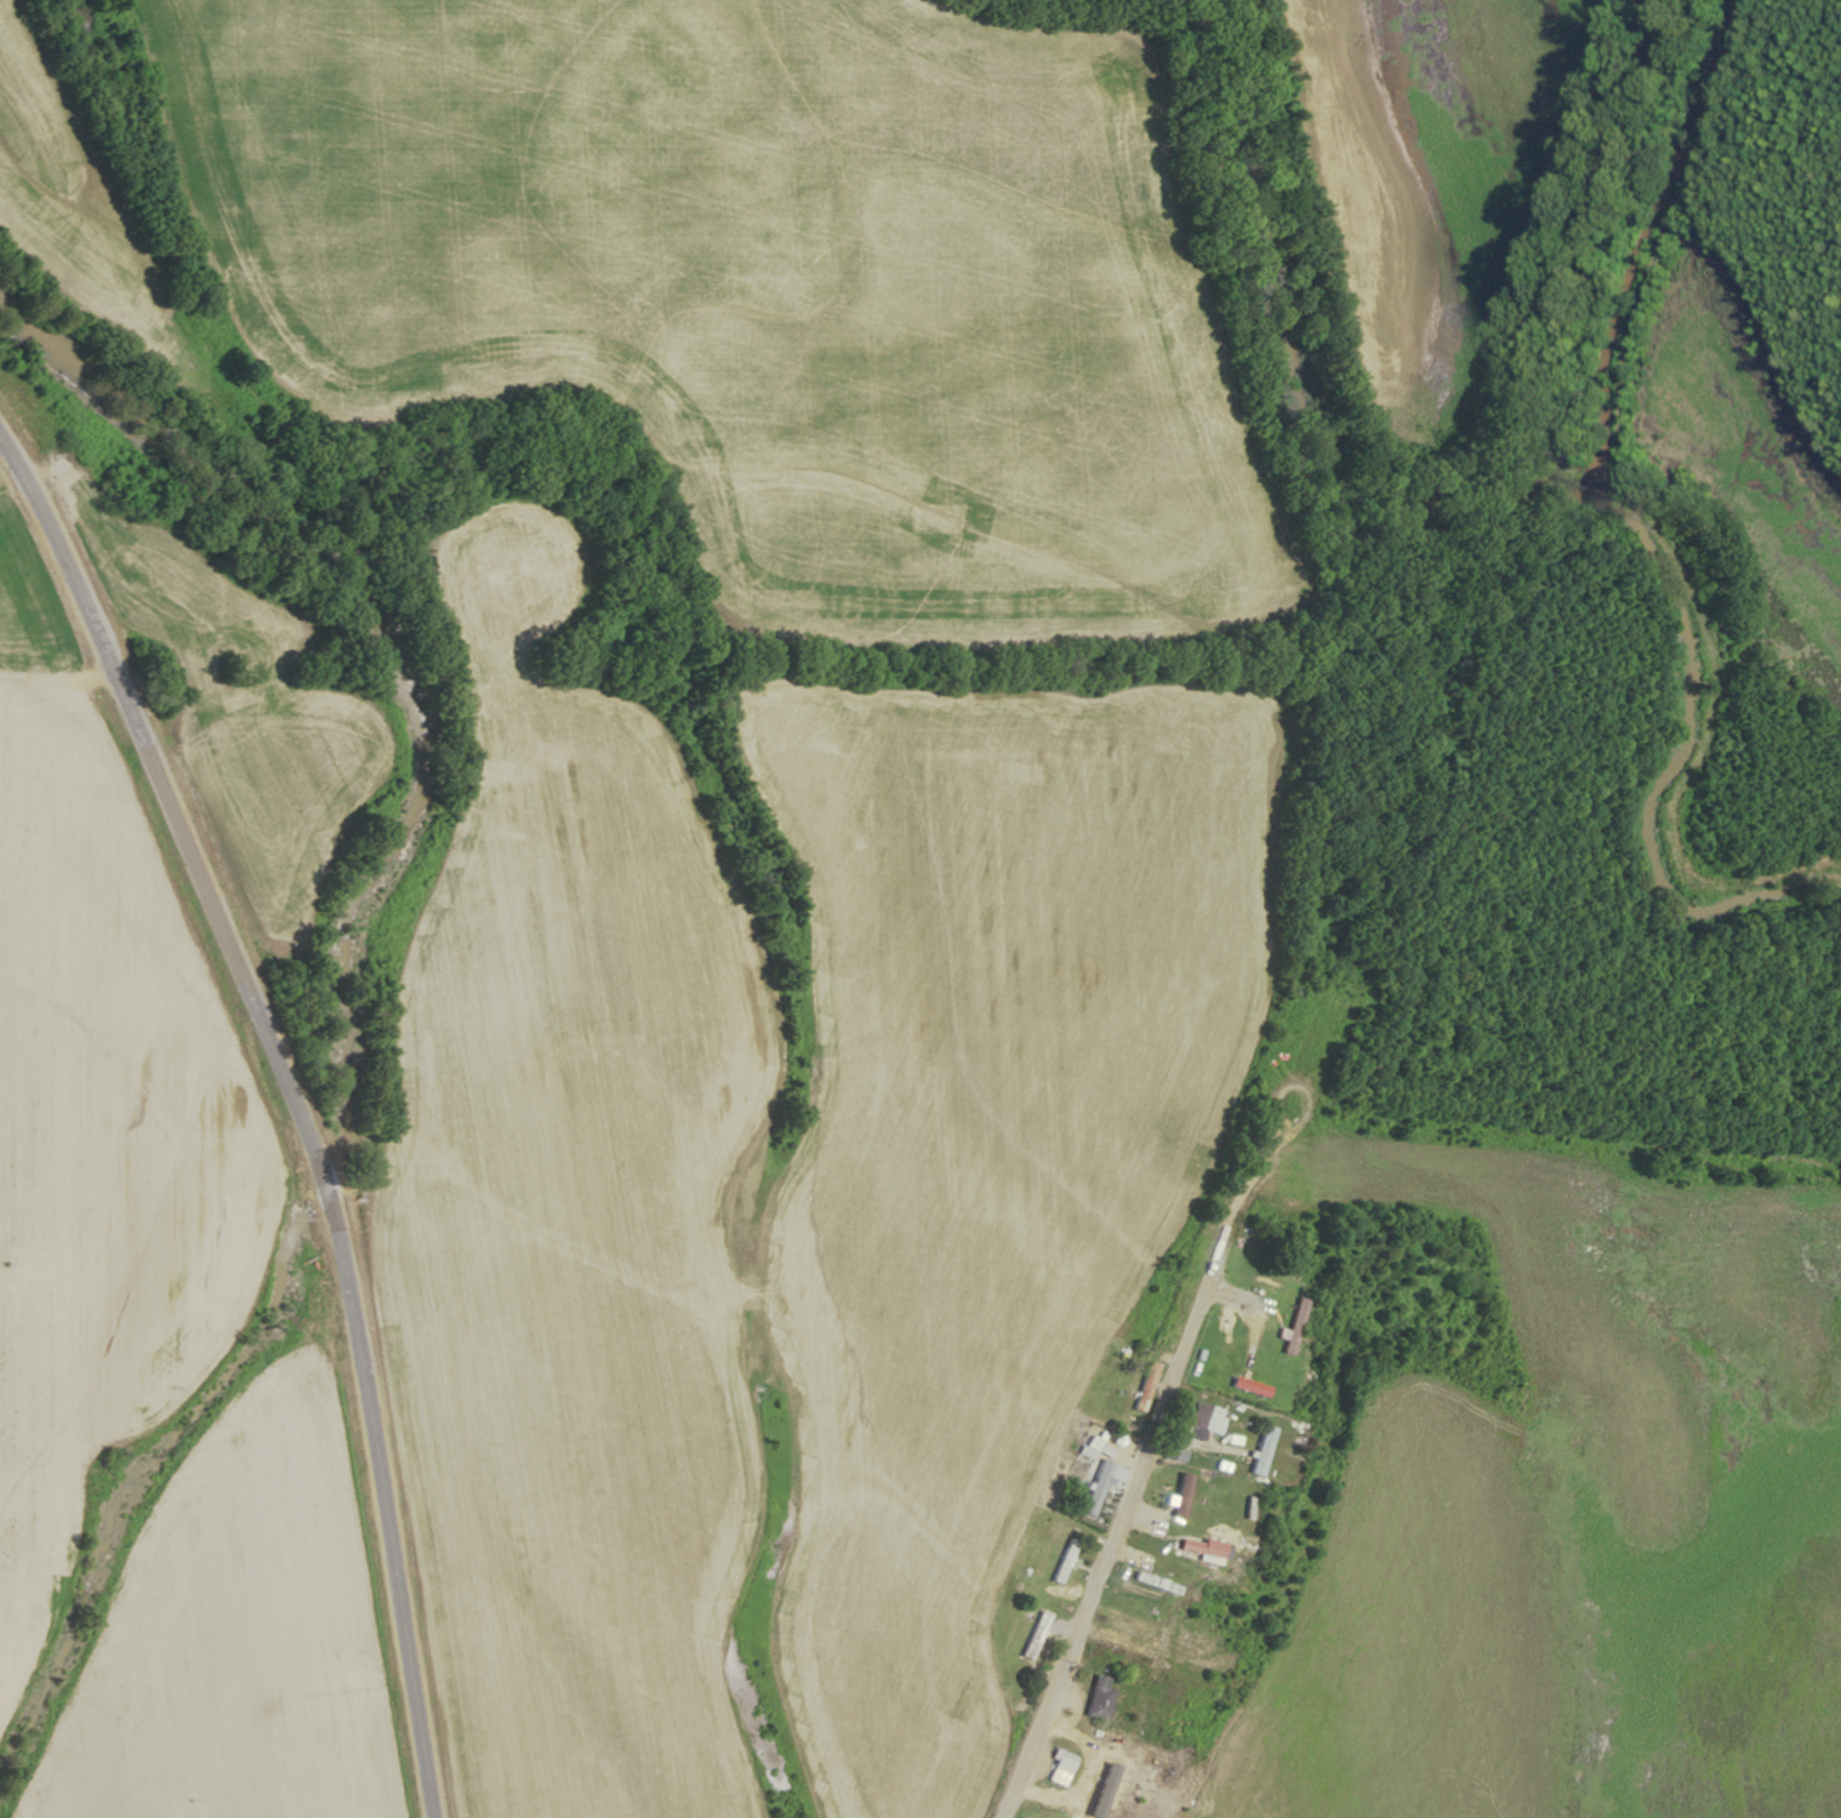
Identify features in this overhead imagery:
road: (52, 574)
road: (58, 686)
road: (1529, 690)
road: (1543, 1134)
road: (426, 1191)
building: (1146, 1386)
building: (1206, 1421)
building: (1264, 1451)
building: (1098, 1488)
building: (1182, 1495)
road: (1132, 1497)
road: (1313, 1508)
building: (1203, 1548)
building: (1064, 1561)
building: (1036, 1636)
building: (1099, 1697)
building: (1060, 1767)
road: (1175, 1768)

